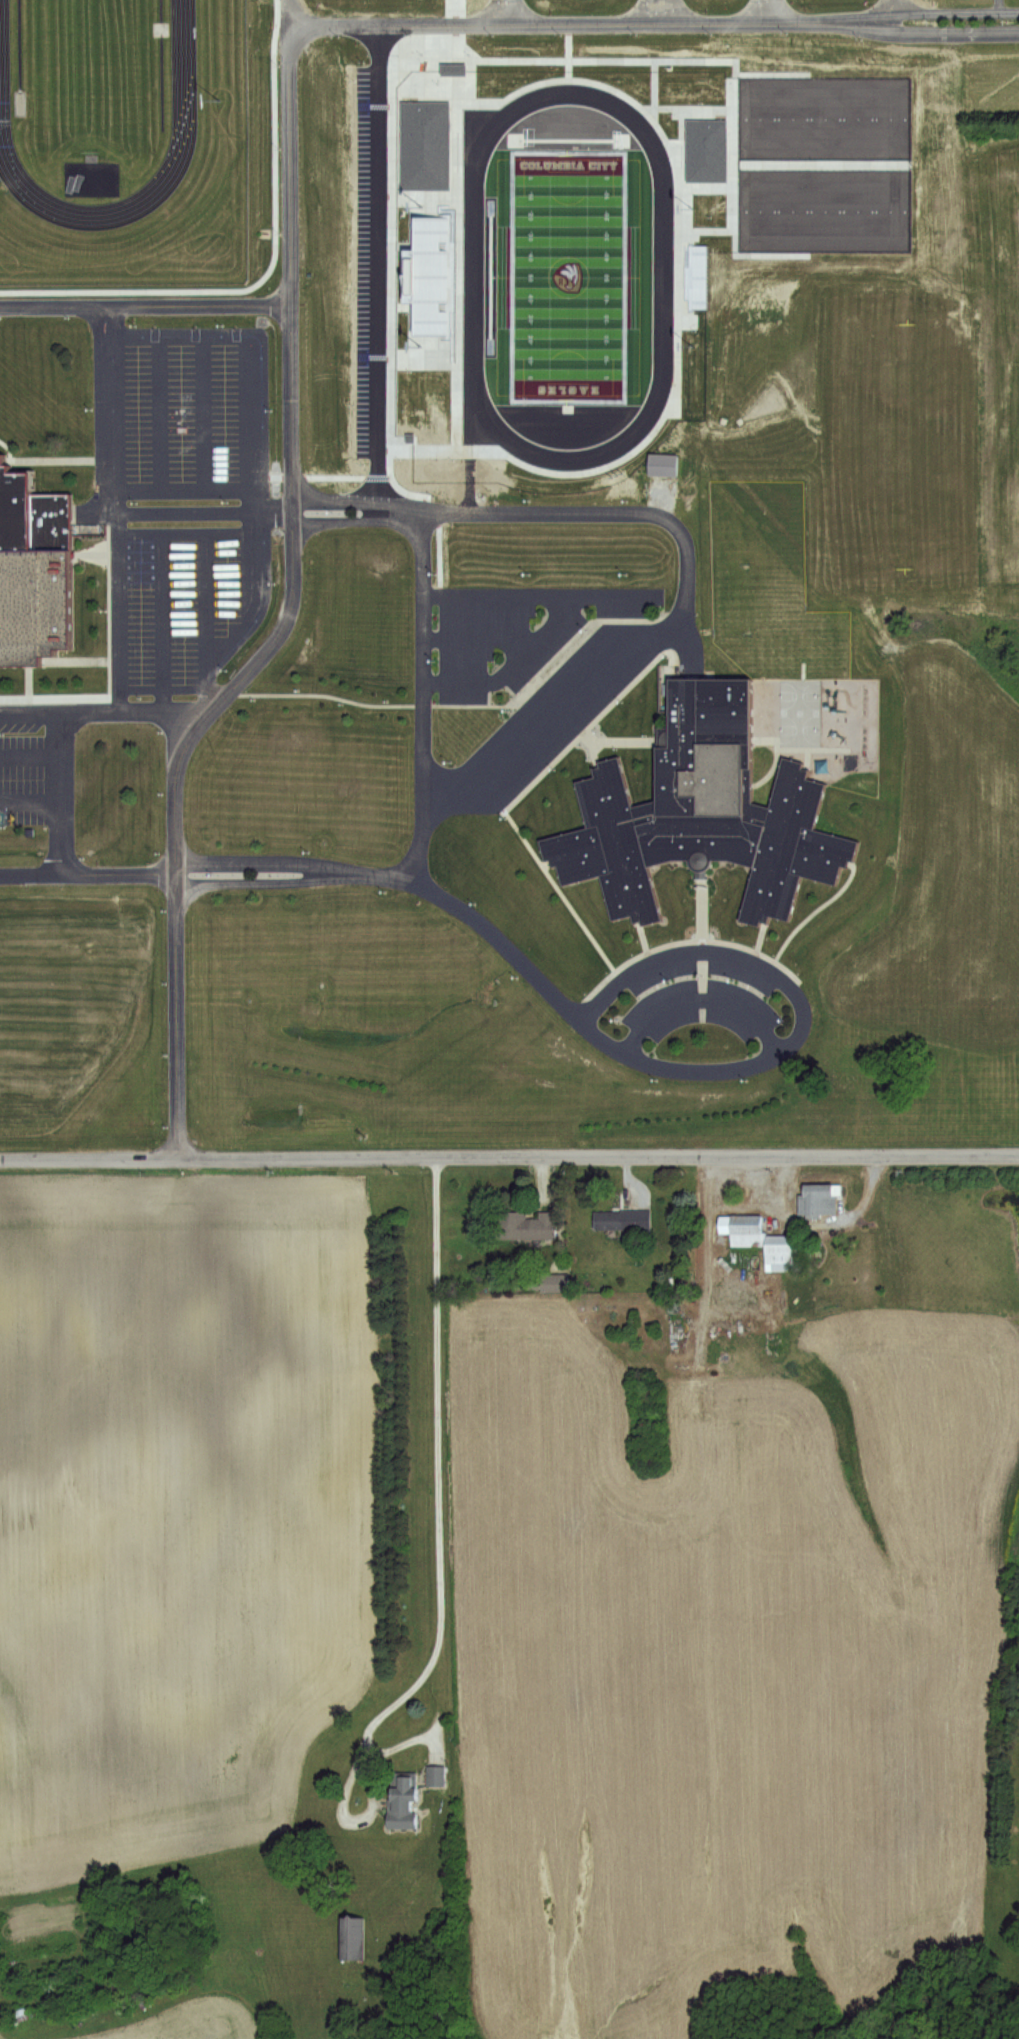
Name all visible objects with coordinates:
road: (682, 10)
road: (765, 10)
road: (930, 10)
road: (455, 11)
road: (498, 11)
road: (635, 11)
road: (288, 22)
road: (930, 31)
road: (566, 39)
road: (734, 58)
track: (180, 61)
building: (450, 66)
road: (566, 69)
road: (470, 70)
park: (87, 71)
road: (772, 72)
road: (651, 82)
road: (689, 105)
road: (669, 141)
building: (421, 145)
park: (821, 164)
road: (821, 165)
building: (999, 174)
road: (706, 184)
road: (425, 197)
road: (705, 231)
building: (950, 236)
parking lot: (370, 266)
stadium: (568, 276)
road: (350, 277)
road: (390, 299)
road: (144, 303)
road: (289, 337)
road: (255, 347)
road: (424, 354)
parking lot: (181, 406)
road: (41, 456)
building: (660, 464)
road: (339, 472)
road: (133, 489)
road: (182, 490)
road: (230, 490)
road: (106, 499)
road: (356, 499)
road: (92, 510)
road: (355, 519)
road: (200, 531)
road: (88, 550)
road: (76, 560)
building: (33, 561)
road: (499, 591)
parking lot: (181, 600)
road: (686, 602)
road: (251, 604)
road: (161, 620)
road: (206, 620)
parking lot: (515, 632)
road: (532, 636)
road: (475, 637)
road: (686, 640)
road: (56, 647)
road: (119, 654)
road: (54, 658)
road: (108, 663)
road: (26, 677)
road: (163, 689)
road: (464, 703)
road: (88, 709)
road: (29, 710)
parking lot: (548, 715)
road: (419, 736)
road: (563, 737)
road: (633, 738)
road: (598, 739)
road: (814, 745)
road: (29, 753)
road: (778, 754)
road: (556, 755)
parking lot: (23, 760)
road: (59, 784)
building: (702, 807)
road: (59, 835)
road: (251, 859)
road: (30, 870)
road: (117, 870)
road: (251, 881)
building: (1010, 881)
building: (992, 884)
road: (816, 904)
building: (954, 925)
road: (590, 932)
road: (759, 932)
road: (701, 934)
road: (753, 947)
road: (717, 948)
road: (644, 950)
road: (698, 971)
building: (990, 976)
road: (701, 977)
parking lot: (700, 995)
road: (662, 1066)
road: (509, 1156)
building: (822, 1199)
building: (614, 1219)
building: (527, 1224)
building: (745, 1227)
building: (784, 1248)
road: (704, 1250)
building: (557, 1281)
road: (437, 1474)
crop: (175, 1510)
building: (440, 1775)
building: (406, 1803)
building: (353, 1937)
crop: (38, 2036)

